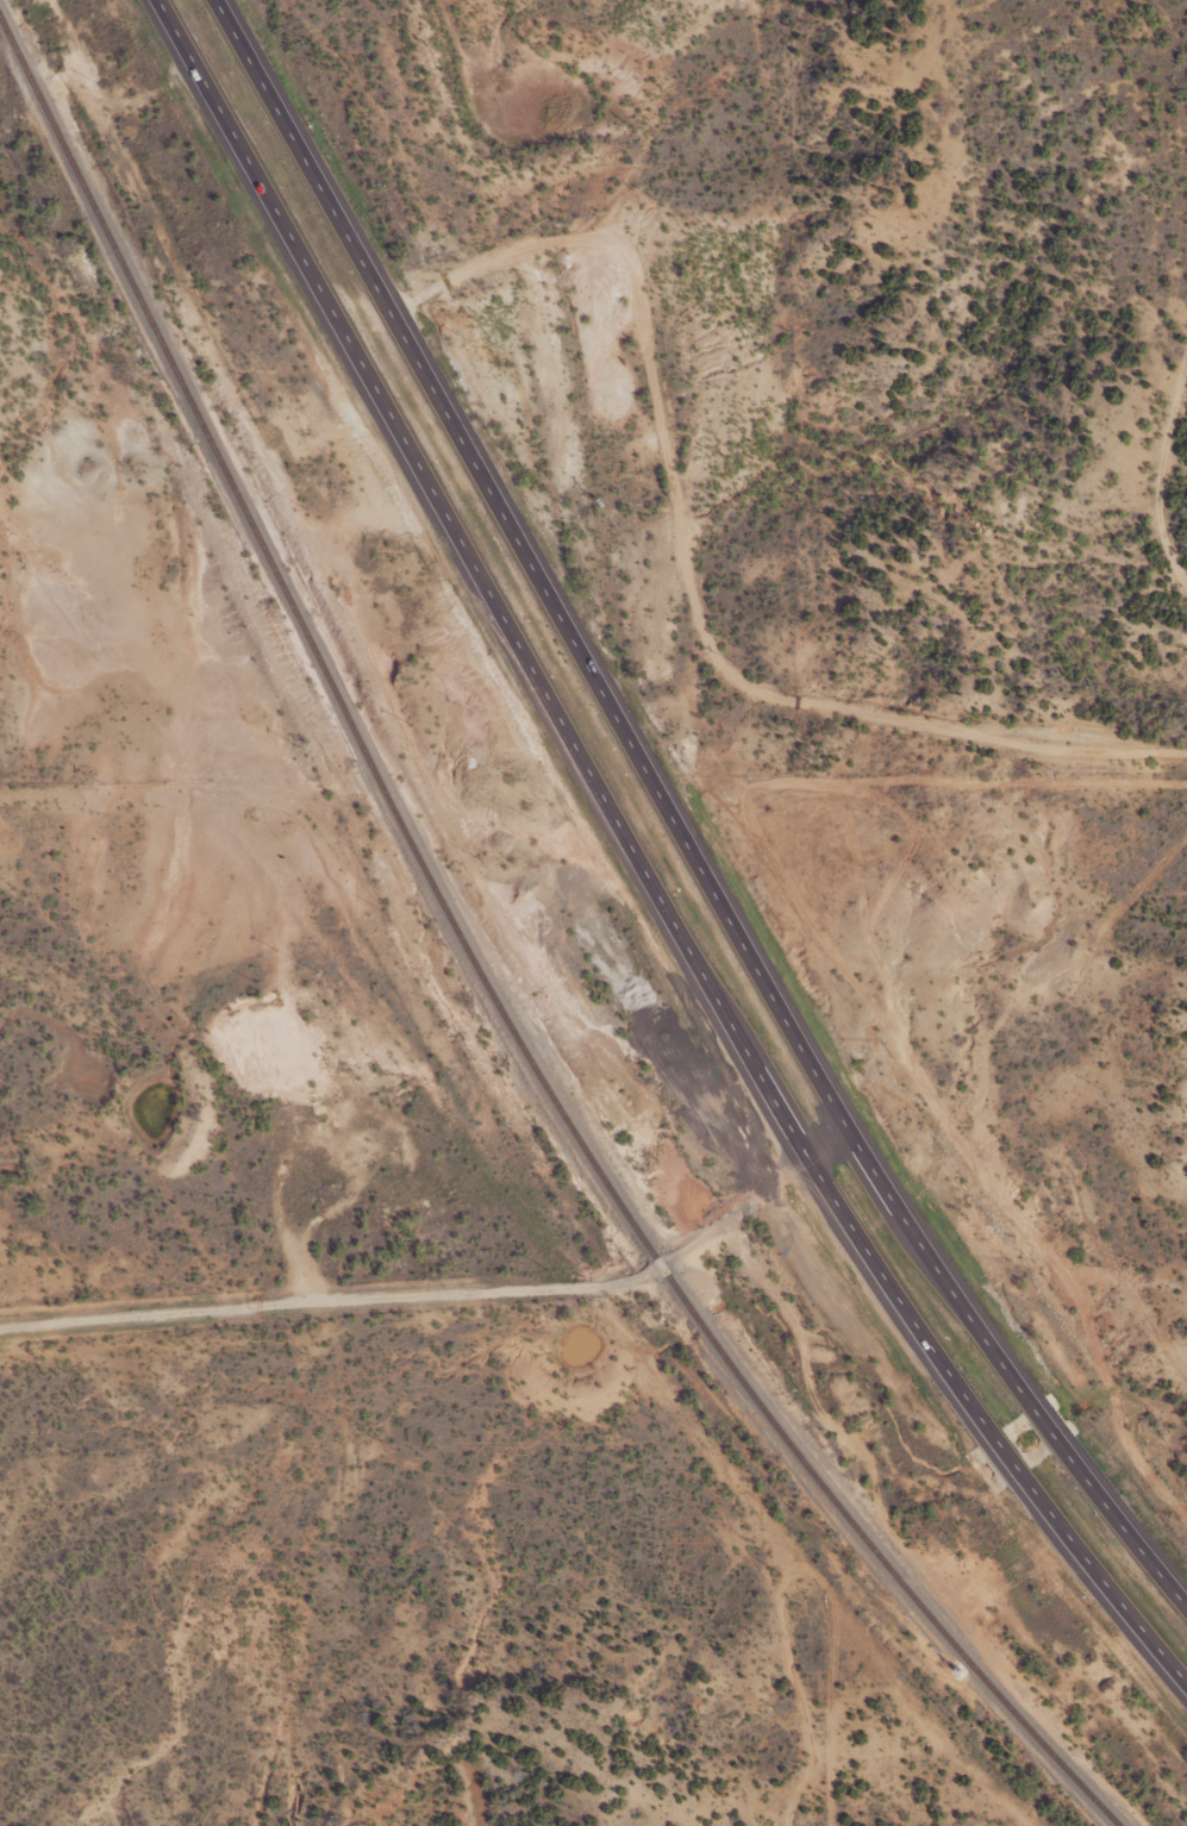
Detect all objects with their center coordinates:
road: (693, 575)
road: (1182, 609)
road: (675, 821)
road: (639, 861)
railway: (483, 970)
road: (446, 1306)

